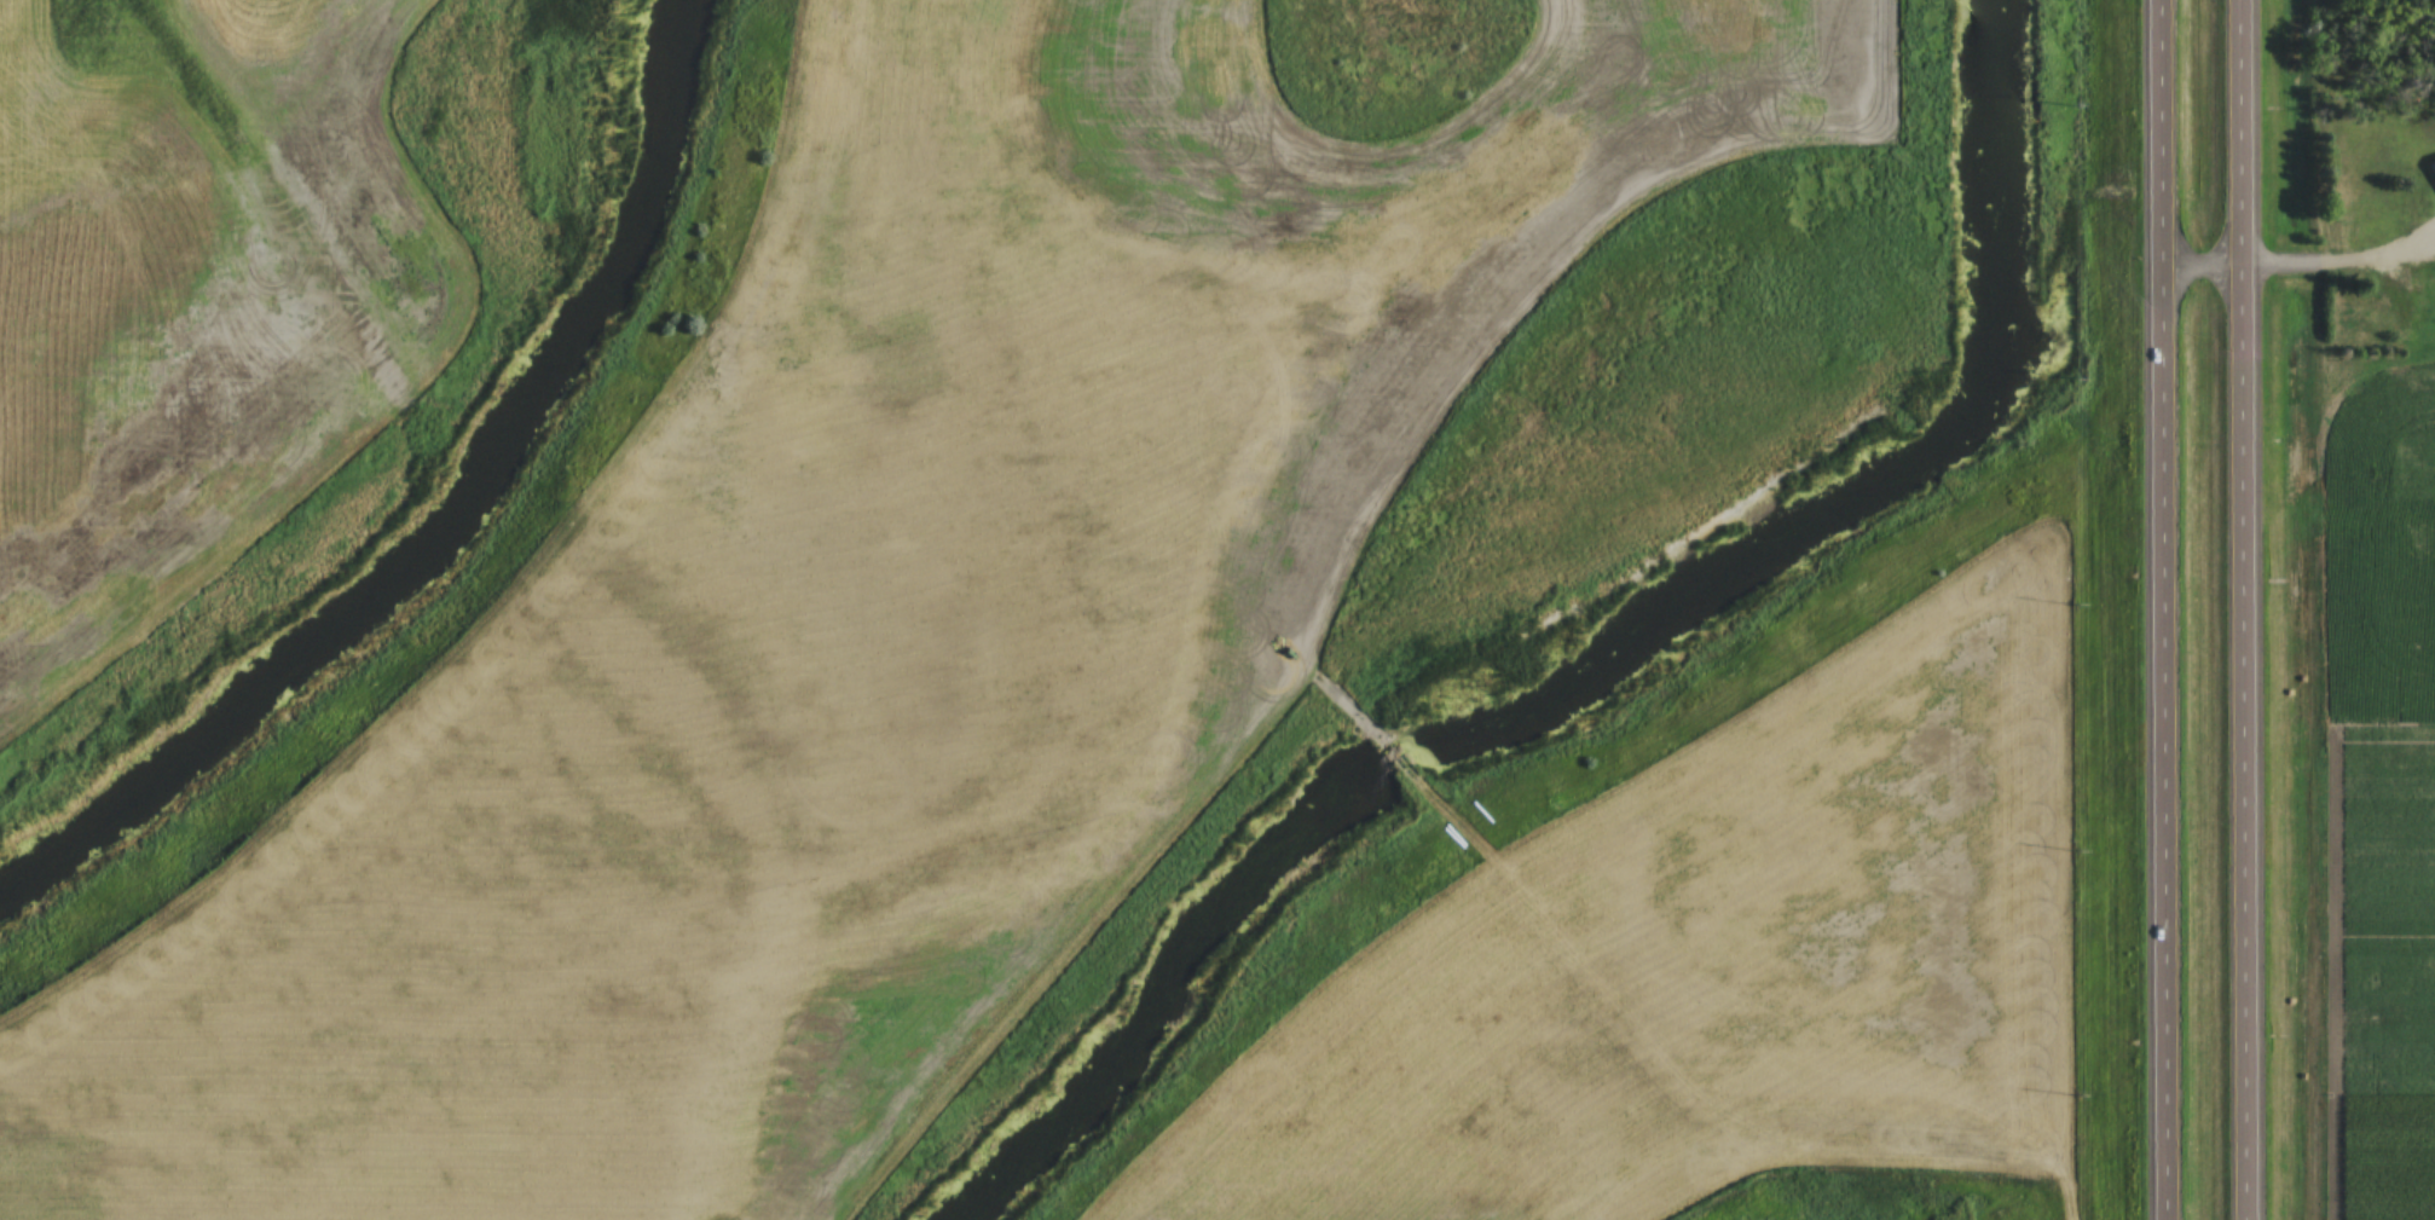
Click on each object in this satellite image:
building: (2429, 148)
building: (2372, 226)
road: (2337, 243)
road: (2153, 609)
road: (2242, 609)

